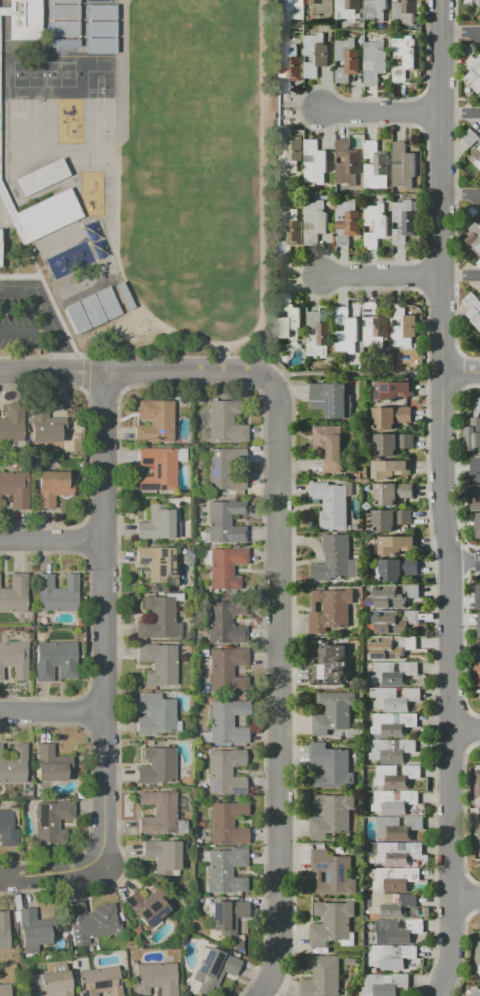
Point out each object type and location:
building: (64, 1)
building: (477, 2)
building: (293, 9)
building: (318, 9)
building: (346, 10)
building: (374, 11)
building: (403, 11)
building: (4, 12)
building: (64, 12)
building: (102, 12)
building: (26, 20)
building: (64, 29)
building: (102, 29)
road: (461, 31)
building: (64, 46)
building: (102, 47)
building: (315, 55)
building: (403, 58)
building: (346, 59)
building: (375, 62)
building: (288, 67)
building: (99, 73)
building: (473, 74)
building: (44, 75)
building: (20, 76)
building: (99, 89)
road: (379, 112)
road: (460, 113)
building: (470, 137)
building: (287, 152)
building: (475, 158)
building: (318, 162)
building: (346, 165)
park: (195, 166)
building: (375, 166)
building: (403, 166)
building: (42, 177)
road: (460, 194)
building: (49, 214)
building: (12, 215)
building: (347, 220)
building: (316, 222)
building: (404, 222)
building: (376, 224)
building: (288, 230)
building: (475, 236)
building: (0, 241)
road: (380, 276)
road: (460, 276)
road: (16, 289)
building: (125, 295)
building: (108, 303)
building: (472, 308)
building: (92, 311)
building: (76, 319)
building: (288, 319)
building: (374, 327)
building: (402, 327)
road: (25, 329)
road: (51, 329)
building: (345, 331)
building: (317, 335)
building: (479, 338)
road: (133, 371)
road: (461, 373)
road: (354, 375)
building: (392, 392)
building: (330, 399)
building: (478, 406)
building: (391, 418)
building: (155, 422)
building: (225, 423)
building: (12, 424)
building: (45, 429)
building: (471, 434)
building: (393, 445)
building: (330, 447)
building: (224, 468)
building: (158, 469)
building: (390, 470)
building: (475, 470)
building: (53, 486)
building: (15, 488)
building: (392, 494)
road: (443, 499)
building: (474, 500)
building: (0, 504)
building: (330, 504)
building: (390, 521)
building: (157, 523)
building: (224, 523)
building: (477, 525)
road: (52, 542)
building: (398, 546)
building: (333, 560)
road: (465, 560)
building: (156, 563)
building: (225, 567)
building: (397, 570)
building: (57, 594)
building: (14, 595)
building: (396, 597)
building: (477, 597)
building: (330, 610)
road: (103, 617)
building: (157, 618)
building: (225, 621)
building: (396, 622)
building: (478, 627)
building: (392, 648)
building: (15, 659)
building: (55, 660)
building: (159, 663)
building: (330, 666)
building: (226, 670)
building: (476, 671)
building: (394, 672)
road: (278, 688)
building: (394, 699)
road: (51, 714)
building: (156, 714)
building: (333, 714)
building: (227, 722)
building: (393, 724)
road: (466, 730)
building: (205, 737)
building: (393, 749)
building: (52, 765)
building: (14, 766)
building: (156, 766)
building: (331, 766)
building: (226, 773)
building: (397, 777)
building: (477, 786)
building: (394, 802)
building: (158, 813)
building: (332, 816)
building: (51, 823)
building: (226, 824)
building: (7, 827)
building: (399, 829)
building: (478, 840)
building: (398, 855)
building: (164, 856)
building: (226, 871)
road: (50, 874)
building: (334, 874)
building: (397, 880)
road: (467, 897)
building: (147, 906)
building: (394, 906)
building: (228, 917)
building: (91, 922)
building: (331, 923)
building: (5, 929)
building: (35, 929)
building: (399, 931)
building: (477, 957)
building: (393, 958)
building: (218, 965)
building: (323, 977)
building: (156, 978)
building: (100, 981)
building: (386, 985)
building: (52, 986)
building: (5, 990)
building: (475, 991)

